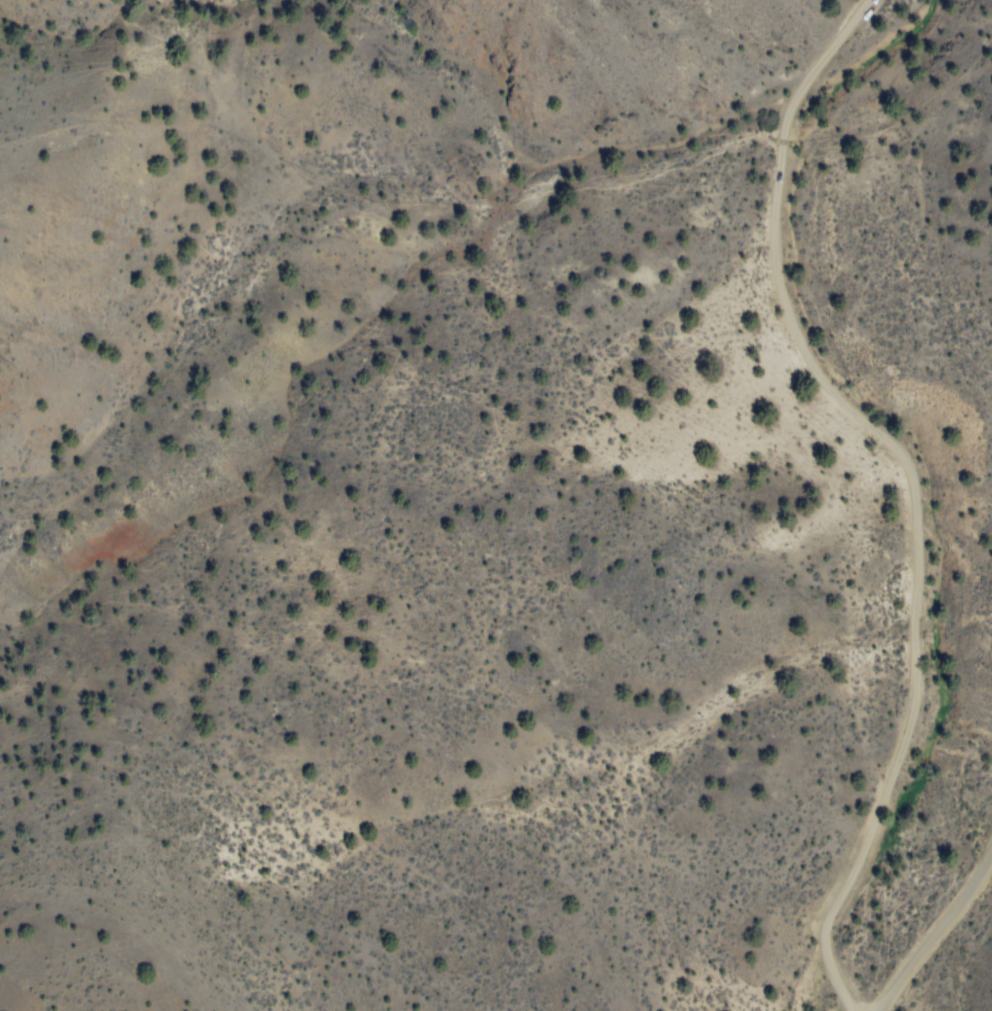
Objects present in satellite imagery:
road: (913, 482)
road: (937, 931)

